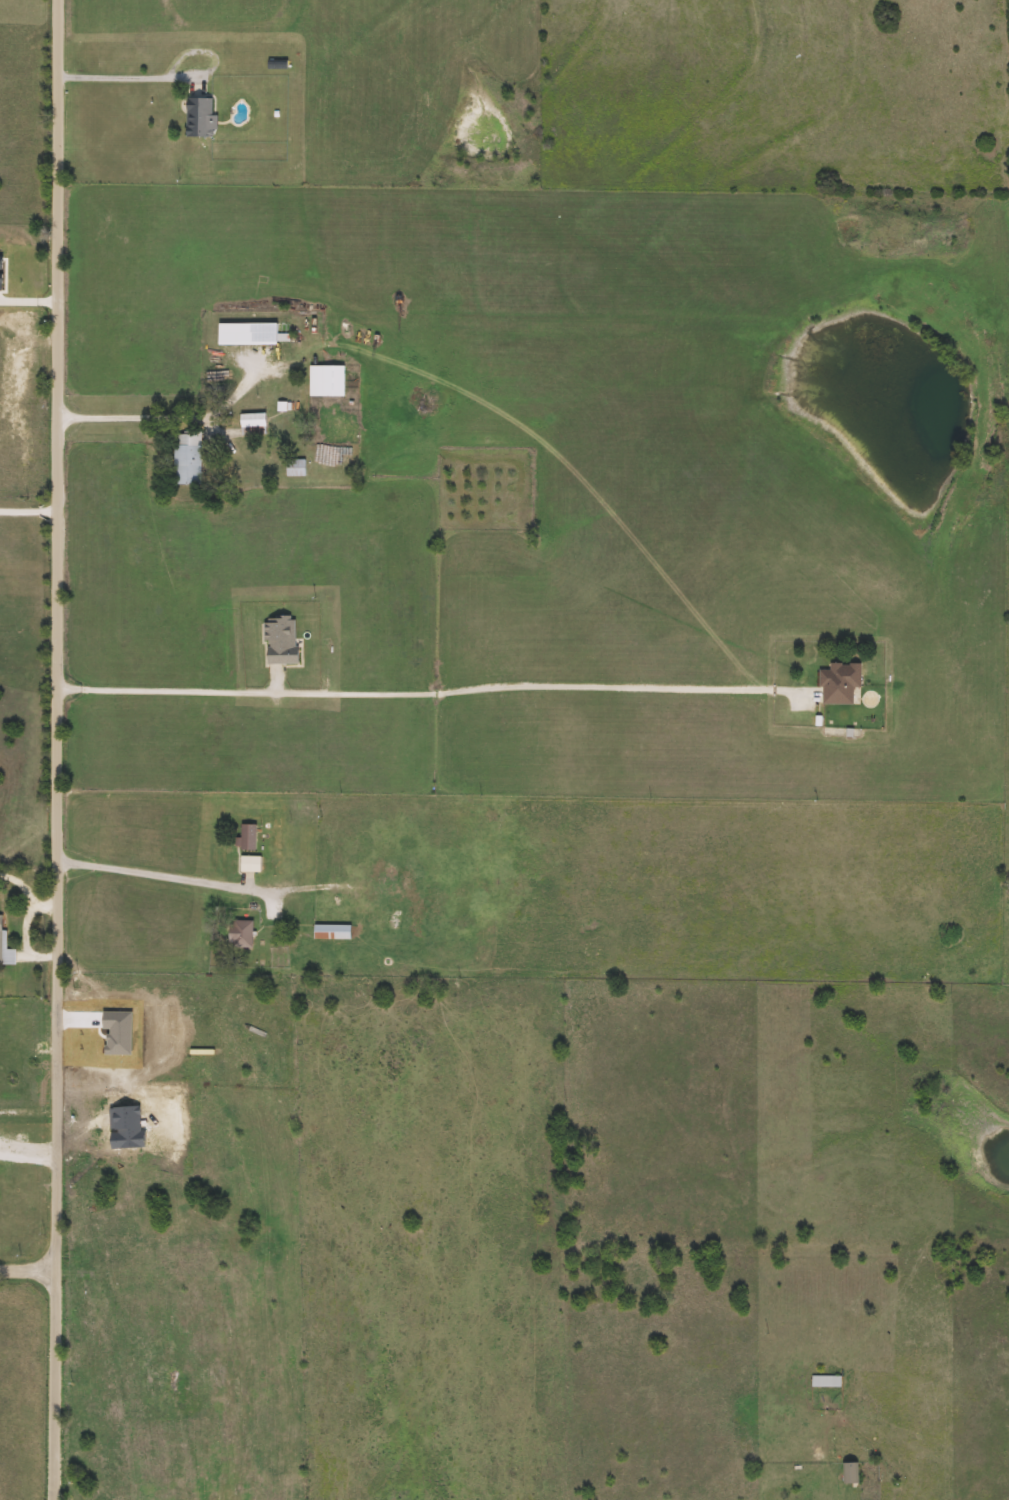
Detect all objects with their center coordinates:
road: (124, 73)
building: (202, 117)
building: (249, 333)
building: (328, 381)
road: (164, 418)
building: (254, 421)
building: (190, 458)
building: (296, 467)
road: (28, 510)
building: (282, 640)
building: (840, 683)
road: (408, 693)
road: (51, 750)
building: (249, 836)
building: (251, 863)
road: (221, 884)
building: (333, 931)
building: (242, 933)
building: (6, 948)
road: (31, 1265)
building: (826, 1380)
building: (851, 1472)

